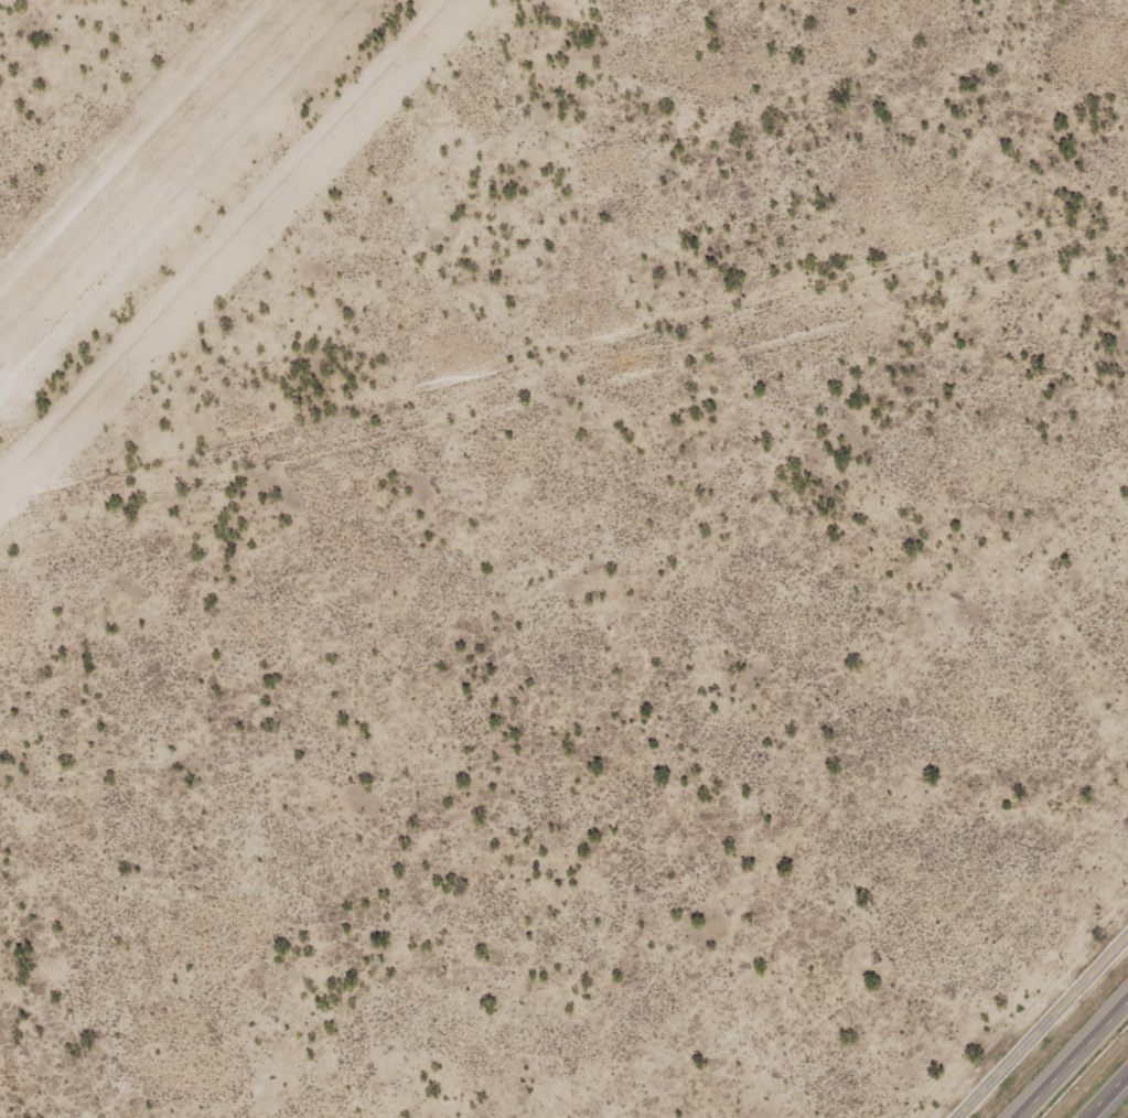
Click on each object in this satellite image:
road: (1033, 1022)
road: (1072, 1057)
road: (1106, 1094)

